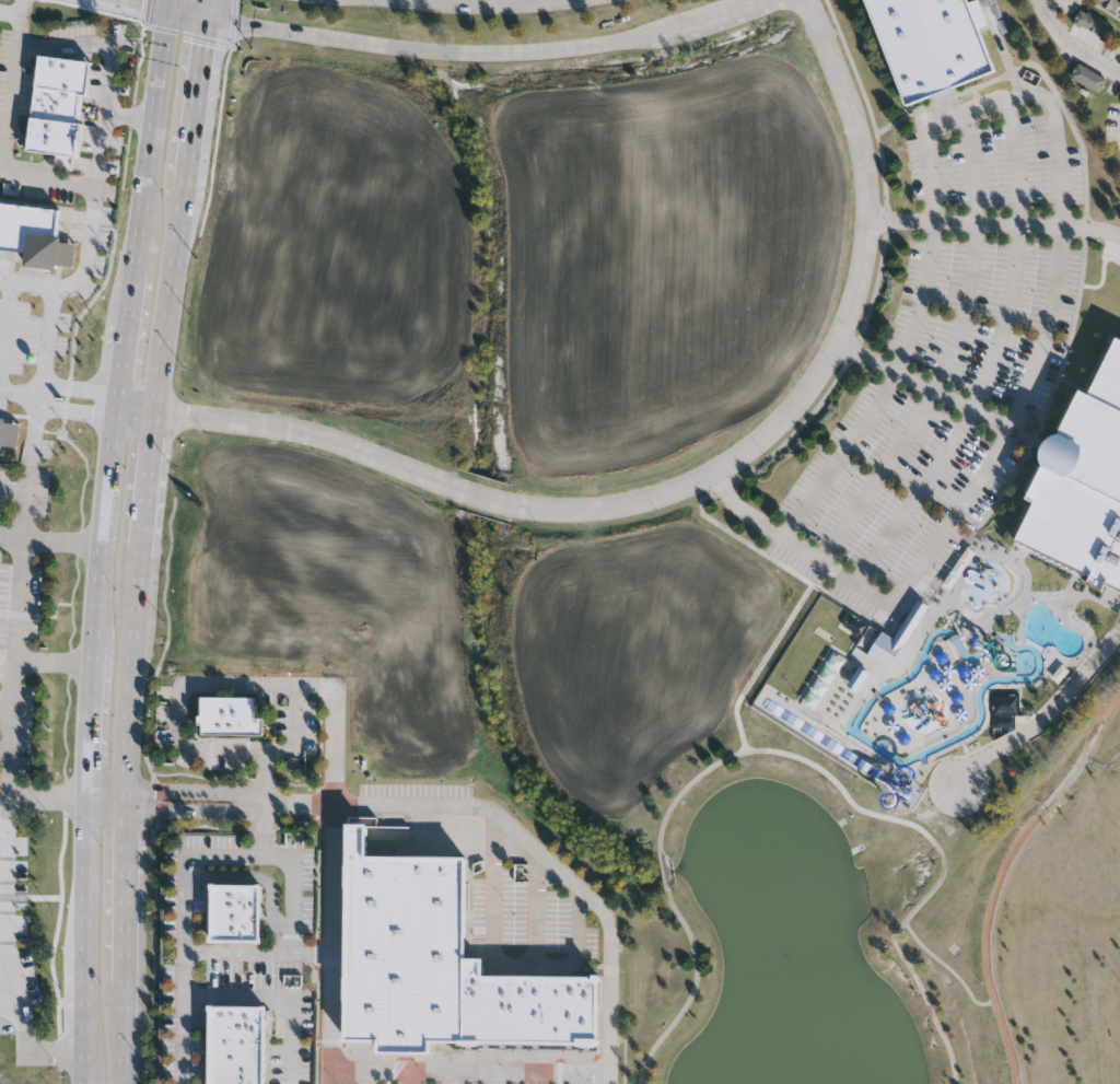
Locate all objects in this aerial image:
traffic signals: (141, 1)
road: (154, 3)
building: (1112, 3)
road: (173, 4)
road: (491, 4)
road: (11, 12)
building: (1096, 26)
road: (1073, 43)
building: (932, 45)
traffic signals: (205, 48)
road: (464, 50)
road: (114, 70)
building: (1089, 79)
road: (1040, 97)
building: (58, 105)
road: (131, 116)
road: (8, 136)
road: (152, 138)
road: (996, 225)
building: (30, 232)
parking lot: (1111, 250)
road: (83, 272)
road: (126, 337)
road: (49, 341)
road: (946, 352)
road: (990, 358)
parking lot: (948, 359)
road: (925, 384)
road: (58, 397)
building: (1, 428)
building: (1082, 482)
road: (678, 487)
road: (103, 528)
road: (51, 537)
road: (138, 539)
road: (797, 545)
road: (19, 606)
building: (917, 618)
road: (54, 661)
road: (186, 688)
road: (5, 708)
road: (1043, 718)
building: (229, 721)
road: (90, 726)
road: (5, 749)
road: (793, 756)
river: (890, 756)
road: (10, 774)
road: (195, 793)
road: (4, 800)
road: (48, 801)
road: (105, 801)
road: (299, 805)
road: (1050, 805)
road: (194, 813)
road: (85, 854)
road: (551, 863)
road: (9, 897)
road: (186, 909)
road: (293, 911)
building: (235, 913)
road: (334, 937)
road: (5, 947)
building: (402, 947)
road: (240, 952)
road: (949, 970)
road: (84, 983)
road: (995, 990)
road: (12, 993)
road: (280, 999)
building: (529, 1009)
building: (237, 1045)
road: (32, 1046)
road: (84, 1071)
road: (472, 1073)
road: (332, 1077)
road: (371, 1077)
road: (415, 1077)
road: (457, 1079)
road: (499, 1079)
road: (539, 1079)
road: (586, 1079)
road: (610, 1080)

